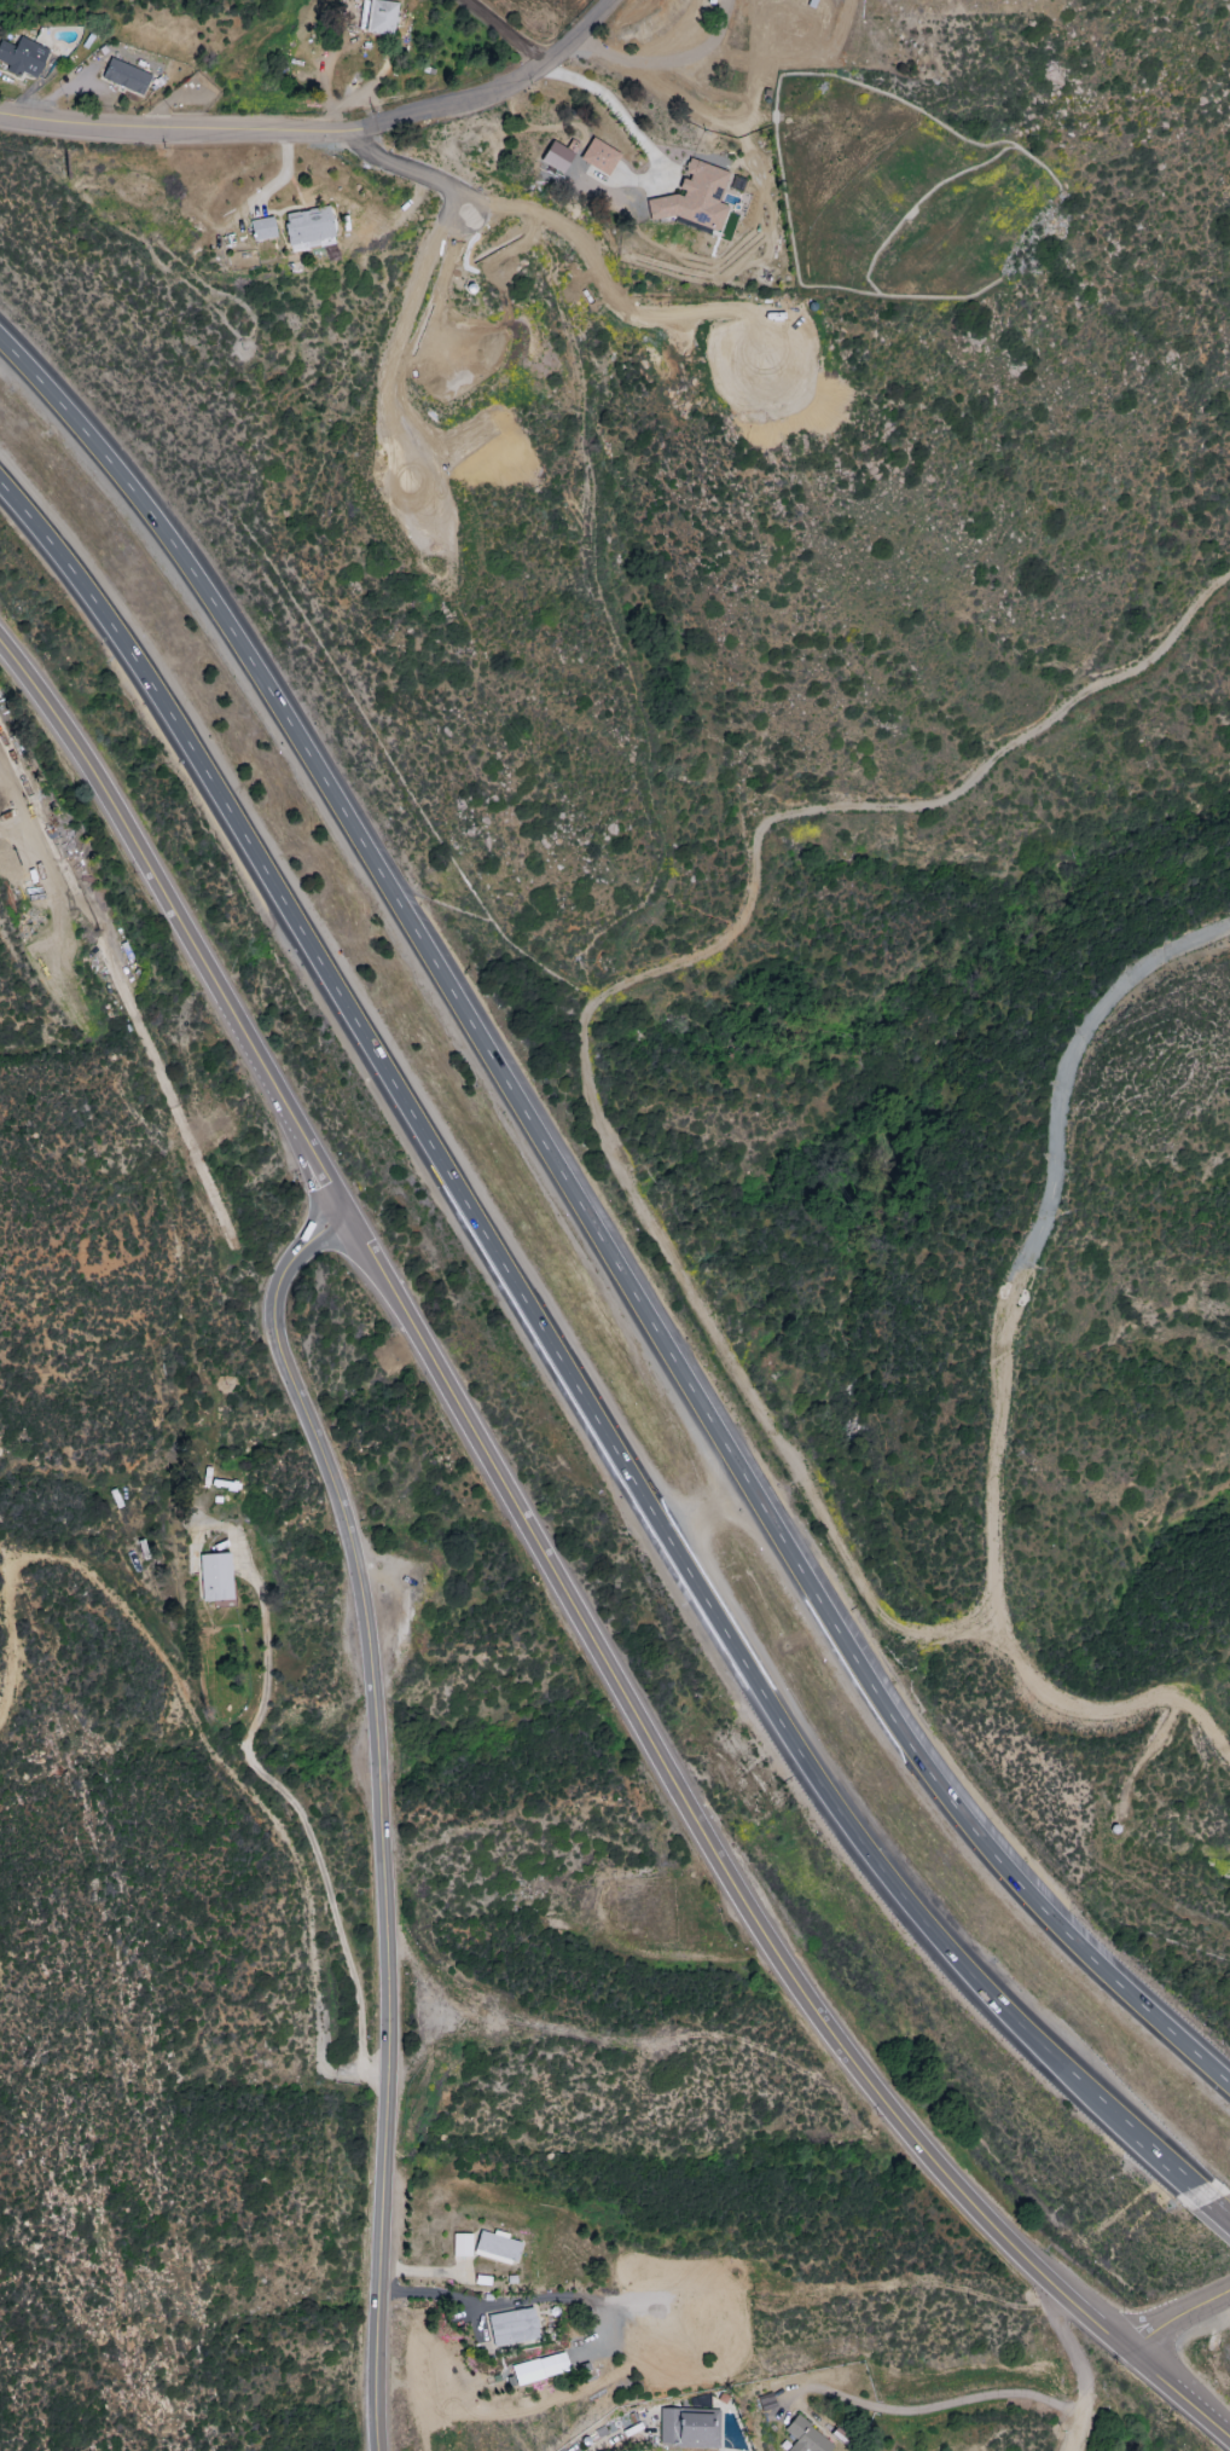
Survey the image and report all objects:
building: (379, 17)
road: (503, 31)
building: (22, 57)
road: (663, 60)
building: (124, 76)
road: (498, 88)
road: (610, 103)
road: (180, 131)
building: (556, 157)
building: (599, 157)
road: (476, 195)
building: (694, 197)
building: (262, 228)
building: (307, 228)
road: (1069, 1061)
road: (607, 1138)
road: (302, 1164)
road: (599, 1225)
road: (573, 1364)
road: (994, 1443)
building: (214, 1577)
road: (559, 1582)
road: (377, 1806)
road: (303, 1824)
road: (1219, 2218)
building: (460, 2244)
building: (497, 2246)
road: (510, 2301)
road: (1176, 2314)
building: (512, 2327)
building: (539, 2369)
road: (1073, 2371)
road: (928, 2405)
building: (687, 2428)
road: (617, 2433)
building: (806, 2436)

